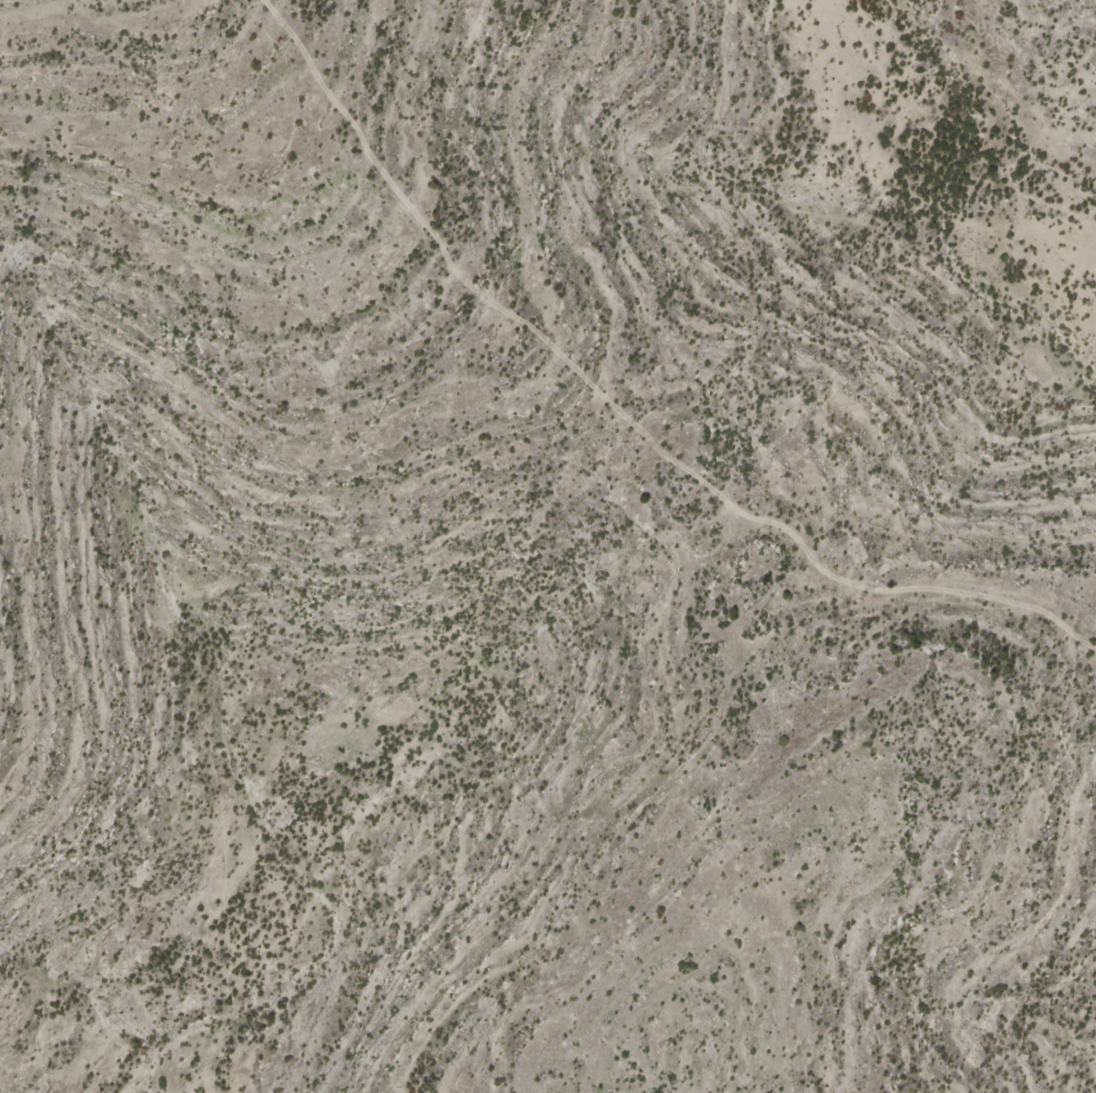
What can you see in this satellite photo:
road: (627, 411)

